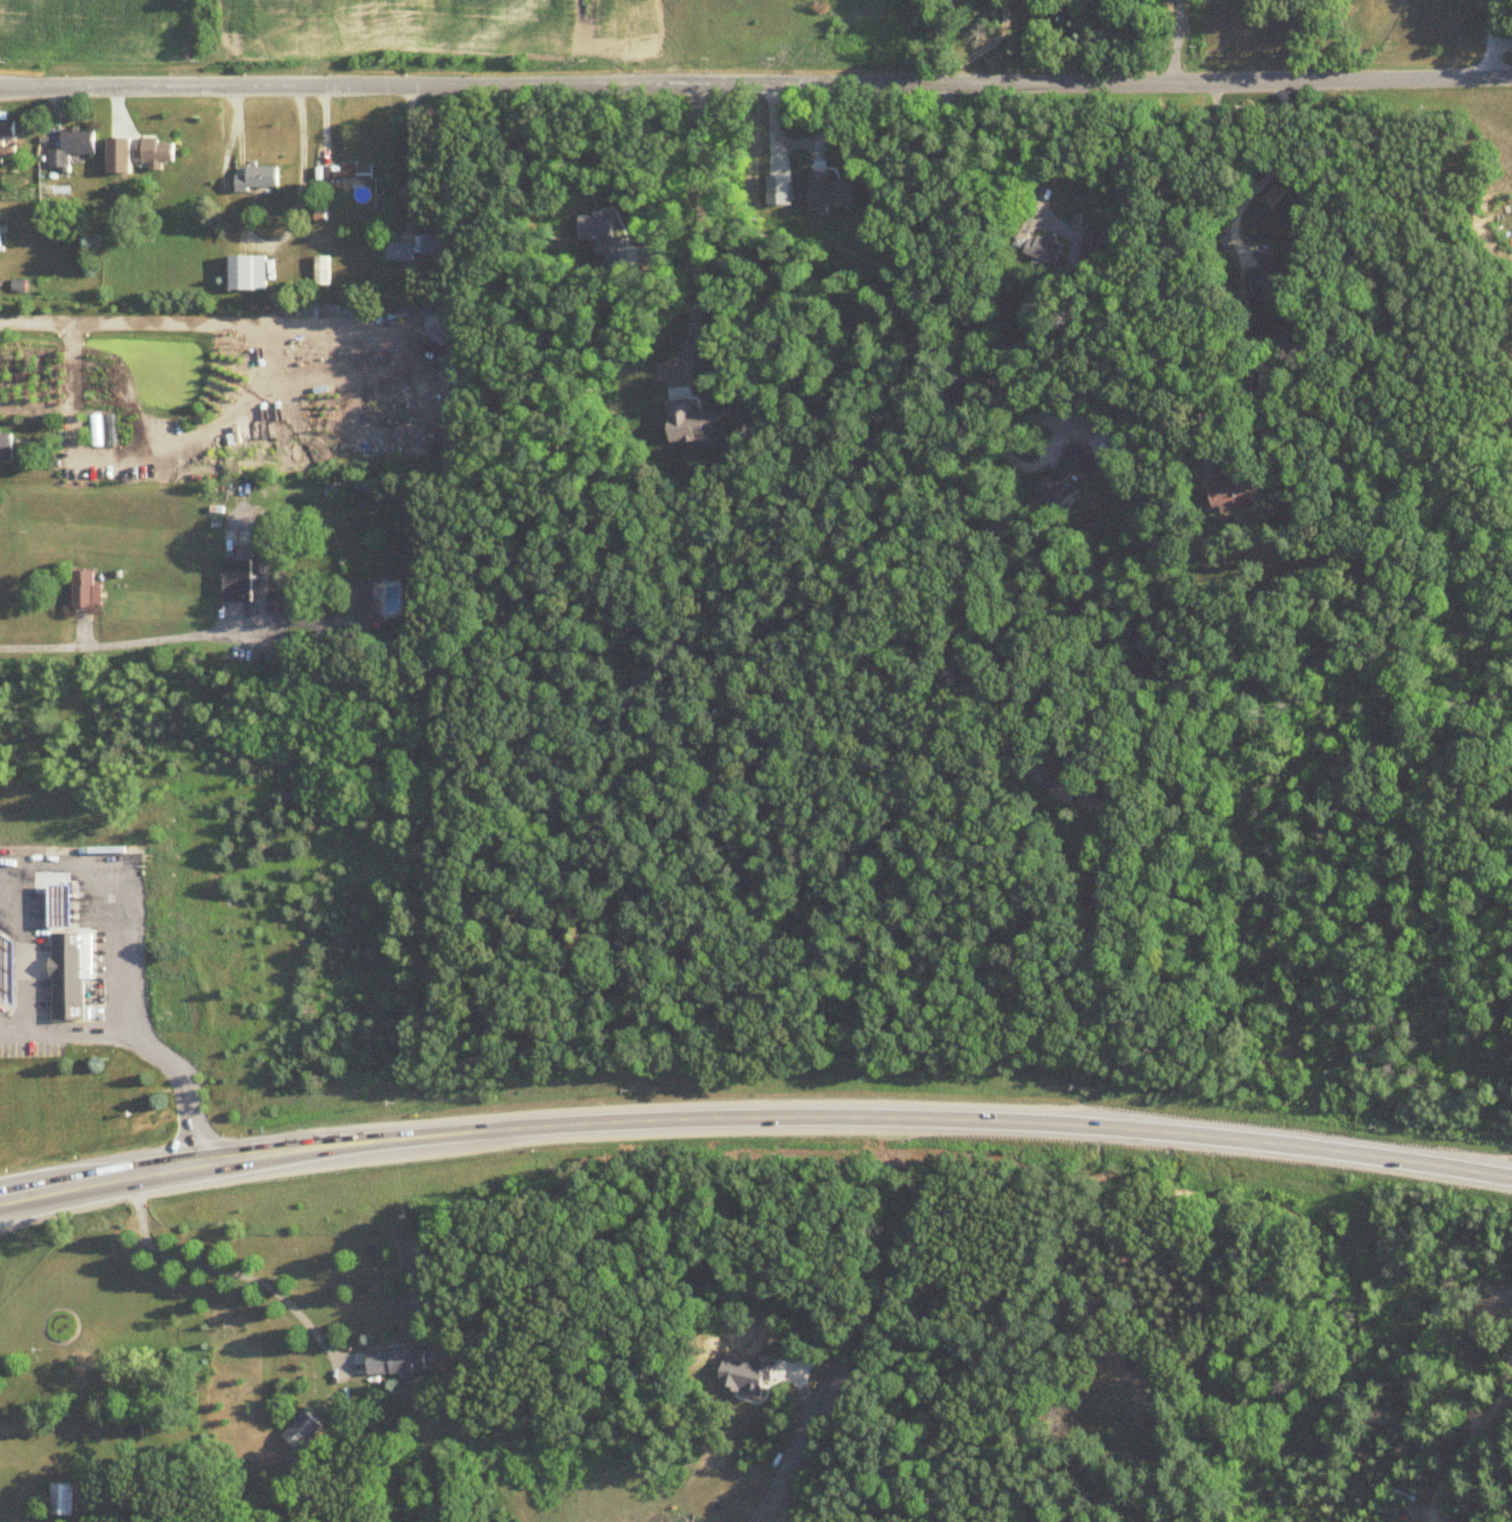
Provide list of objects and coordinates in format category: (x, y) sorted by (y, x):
road: (1487, 23)
road: (1339, 40)
road: (1174, 42)
road: (1500, 45)
road: (981, 47)
road: (1488, 62)
road: (756, 88)
building: (2, 142)
building: (73, 147)
building: (117, 148)
building: (157, 152)
road: (994, 155)
building: (344, 173)
road: (1271, 173)
road: (662, 175)
building: (263, 178)
road: (698, 228)
building: (0, 239)
building: (1094, 242)
building: (423, 248)
building: (1047, 250)
road: (1175, 267)
building: (322, 272)
building: (247, 274)
building: (1267, 280)
road: (962, 303)
road: (35, 323)
building: (304, 354)
building: (1276, 380)
road: (211, 426)
building: (102, 431)
building: (6, 449)
building: (1121, 451)
building: (1070, 475)
building: (1233, 492)
building: (238, 582)
building: (85, 590)
building: (280, 603)
building: (362, 607)
road: (119, 644)
building: (1080, 801)
building: (62, 905)
road: (50, 945)
road: (122, 953)
building: (8, 969)
building: (73, 983)
road: (181, 1088)
road: (852, 1119)
road: (96, 1181)
road: (225, 1270)
building: (399, 1361)
building: (304, 1431)
road: (778, 1473)
building: (66, 1500)

